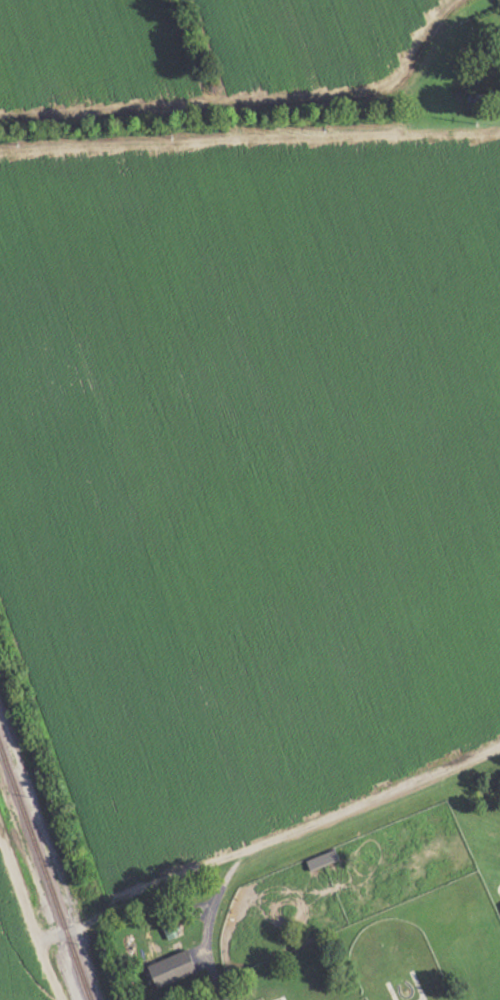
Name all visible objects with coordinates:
road: (226, 859)
railway: (47, 867)
building: (174, 968)

